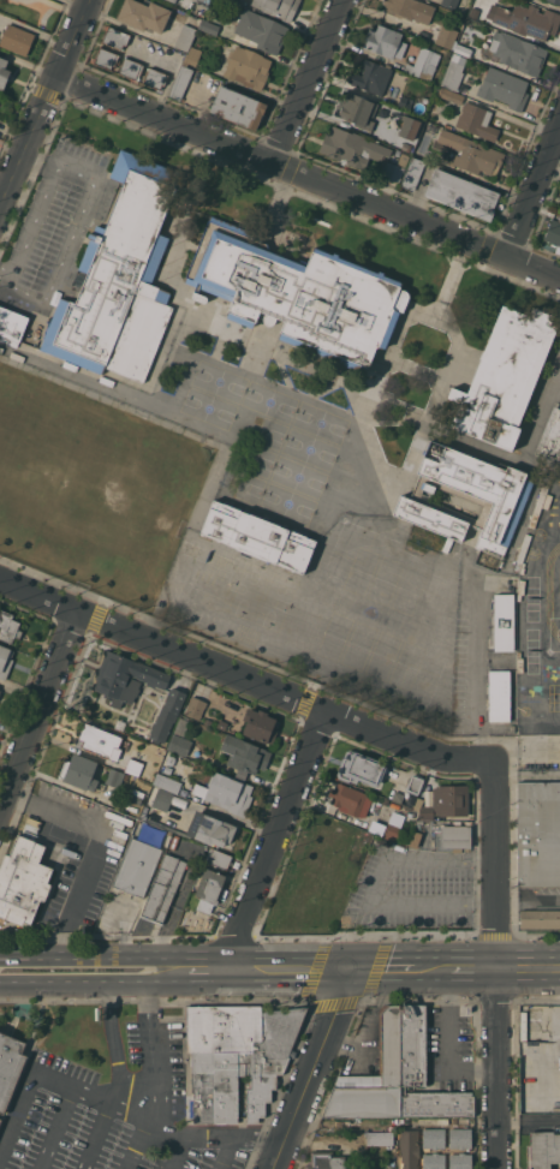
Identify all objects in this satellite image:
building: (173, 0)
building: (204, 1)
building: (555, 1)
building: (449, 4)
building: (278, 7)
building: (410, 10)
building: (144, 14)
building: (528, 19)
building: (208, 26)
building: (261, 30)
building: (469, 31)
building: (115, 36)
building: (446, 36)
building: (185, 37)
building: (17, 38)
building: (382, 41)
building: (461, 49)
building: (517, 53)
building: (192, 55)
building: (106, 58)
building: (423, 62)
building: (246, 67)
building: (131, 68)
building: (453, 71)
building: (4, 73)
building: (371, 77)
building: (155, 78)
road: (309, 80)
building: (181, 82)
building: (504, 88)
building: (451, 95)
building: (404, 102)
road: (46, 105)
building: (238, 107)
road: (199, 109)
building: (357, 109)
building: (476, 121)
building: (409, 127)
building: (351, 147)
building: (406, 147)
road: (43, 151)
building: (403, 159)
building: (478, 159)
building: (393, 172)
building: (412, 173)
road: (309, 175)
road: (94, 184)
road: (534, 192)
building: (461, 193)
building: (553, 231)
road: (5, 270)
building: (120, 278)
building: (298, 293)
building: (11, 326)
building: (504, 377)
building: (550, 435)
building: (466, 497)
building: (258, 536)
building: (504, 622)
building: (8, 627)
building: (5, 660)
building: (125, 678)
road: (245, 678)
road: (476, 688)
building: (0, 690)
building: (499, 694)
building: (195, 706)
road: (41, 711)
building: (167, 715)
building: (260, 726)
building: (181, 727)
building: (100, 740)
building: (179, 745)
building: (244, 756)
building: (171, 763)
building: (133, 767)
building: (361, 768)
building: (79, 771)
road: (526, 774)
building: (114, 777)
building: (167, 782)
building: (415, 783)
building: (226, 792)
building: (136, 795)
building: (160, 799)
building: (350, 799)
building: (445, 801)
building: (143, 815)
building: (210, 829)
building: (391, 831)
building: (538, 834)
building: (455, 836)
building: (413, 837)
building: (173, 841)
road: (275, 841)
building: (218, 858)
road: (473, 859)
building: (136, 866)
building: (23, 879)
road: (377, 881)
building: (163, 888)
building: (209, 889)
road: (529, 899)
road: (471, 903)
road: (75, 908)
building: (540, 918)
road: (498, 966)
road: (383, 970)
road: (431, 970)
road: (475, 970)
road: (529, 970)
road: (249, 971)
traffic signals: (353, 971)
road: (53, 972)
road: (126, 972)
building: (540, 1028)
road: (449, 1040)
road: (115, 1044)
road: (149, 1044)
building: (237, 1057)
building: (10, 1066)
road: (314, 1069)
building: (424, 1072)
building: (373, 1078)
road: (90, 1096)
building: (0, 1119)
road: (529, 1121)
road: (55, 1128)
road: (242, 1134)
road: (95, 1135)
parking lot: (84, 1138)
building: (380, 1138)
building: (433, 1138)
building: (460, 1138)
road: (132, 1141)
building: (407, 1149)
building: (543, 1149)
road: (169, 1151)
building: (324, 1161)
building: (434, 1161)
building: (460, 1161)

